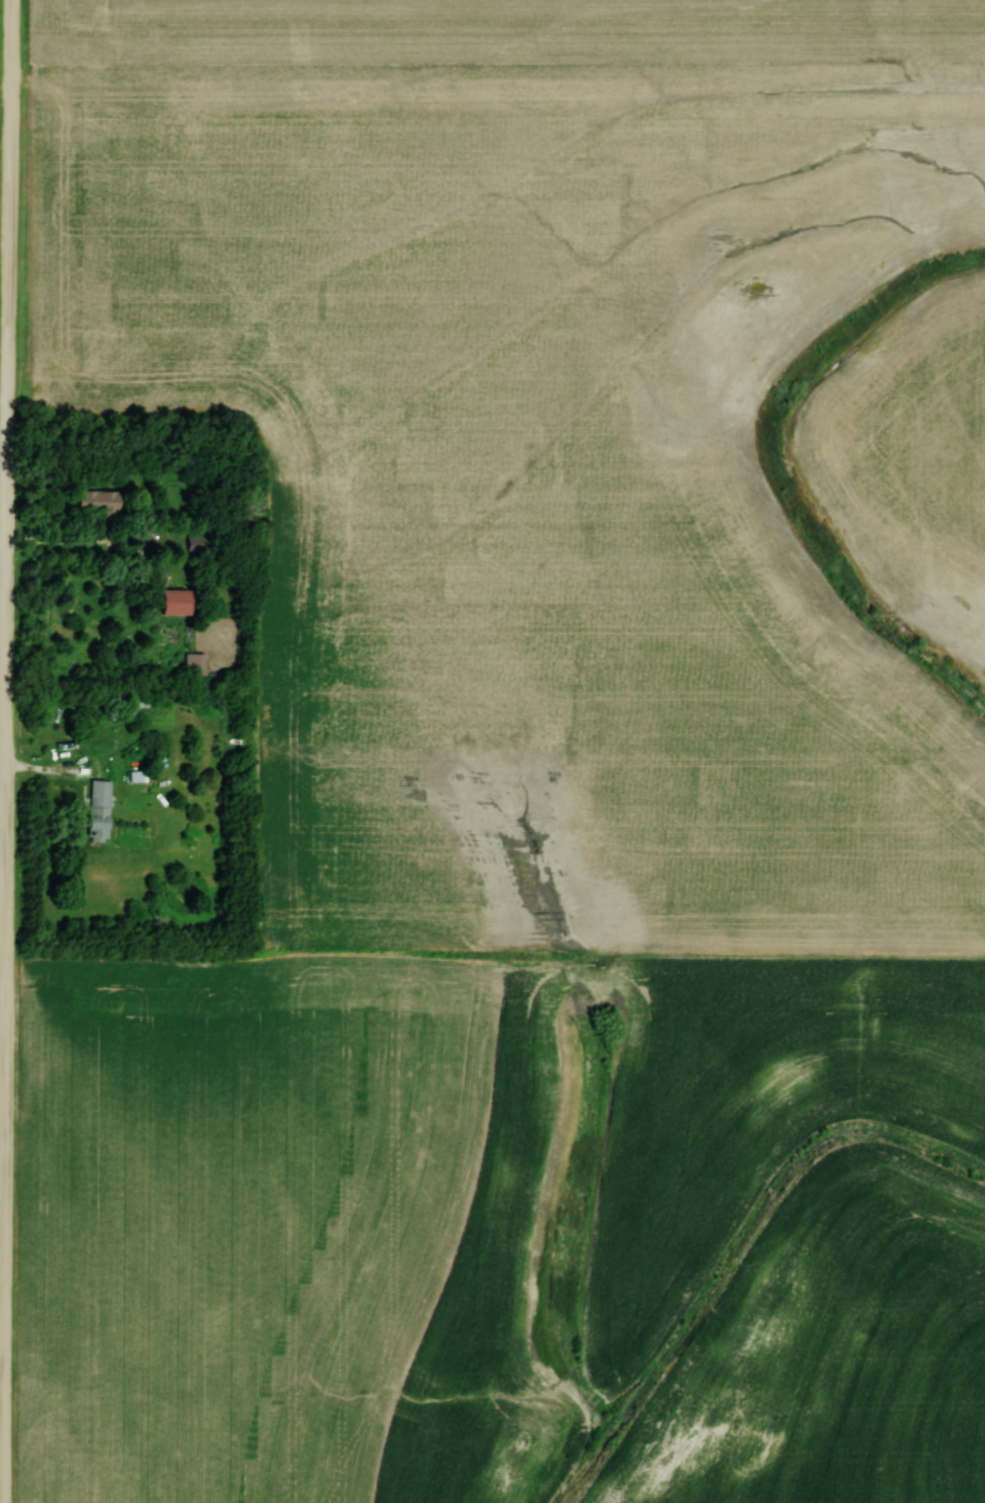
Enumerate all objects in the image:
building: (97, 499)
building: (199, 541)
road: (94, 544)
building: (175, 600)
building: (194, 662)
building: (140, 699)
road: (8, 751)
building: (98, 810)
road: (3, 1361)

